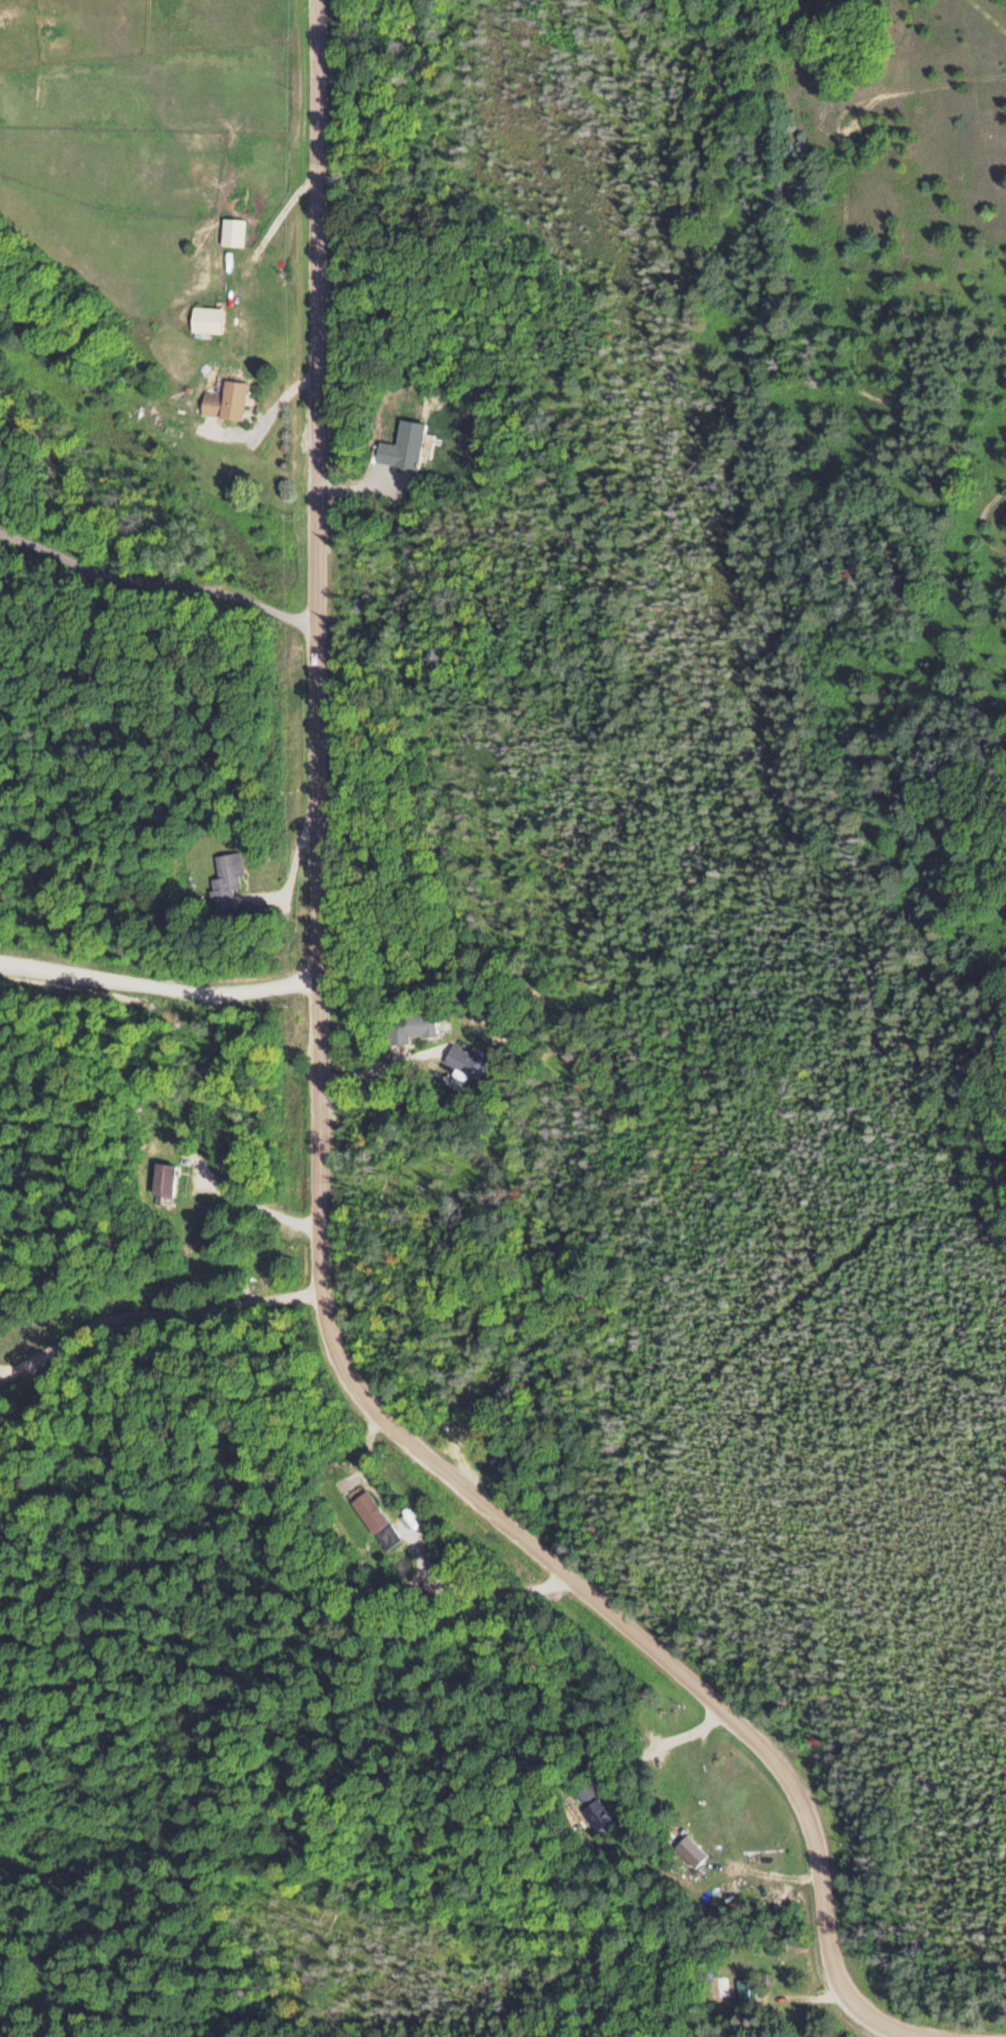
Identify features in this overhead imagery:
building: (231, 230)
building: (205, 317)
building: (224, 399)
building: (400, 444)
building: (224, 881)
building: (409, 1024)
building: (467, 1057)
road: (316, 1141)
building: (162, 1177)
building: (375, 1518)
building: (593, 1808)
building: (689, 1846)
building: (743, 1986)

